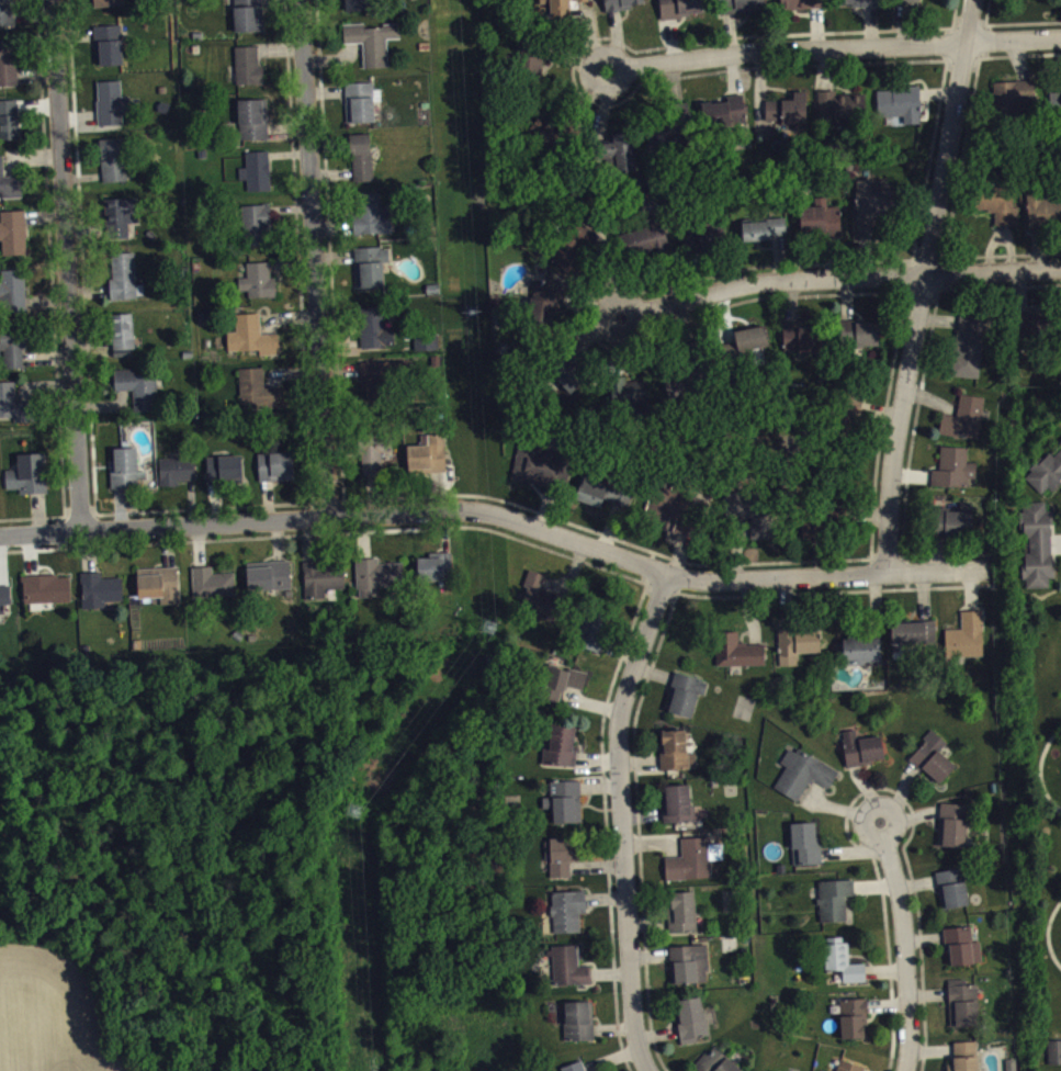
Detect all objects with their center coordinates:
building: (568, 3)
building: (859, 5)
building: (911, 5)
building: (111, 7)
building: (358, 8)
building: (624, 8)
building: (804, 8)
building: (746, 9)
building: (682, 11)
building: (7, 16)
building: (250, 19)
building: (373, 48)
building: (111, 52)
road: (836, 57)
building: (9, 70)
building: (250, 74)
building: (1017, 100)
building: (362, 109)
building: (899, 109)
building: (113, 110)
building: (842, 113)
building: (789, 117)
building: (725, 120)
building: (10, 126)
building: (255, 126)
building: (666, 144)
building: (622, 157)
building: (363, 165)
building: (114, 167)
building: (258, 178)
building: (10, 189)
building: (876, 207)
building: (1000, 211)
building: (1045, 218)
building: (372, 222)
building: (123, 223)
building: (822, 226)
building: (258, 233)
building: (766, 236)
building: (14, 240)
building: (707, 244)
building: (650, 245)
building: (576, 251)
road: (314, 259)
road: (67, 266)
building: (374, 273)
road: (840, 281)
building: (126, 283)
road: (927, 288)
building: (260, 289)
building: (13, 297)
power tower: (474, 312)
building: (548, 313)
building: (377, 336)
building: (1035, 336)
building: (864, 340)
building: (125, 341)
building: (253, 343)
building: (805, 346)
building: (754, 347)
building: (971, 352)
building: (15, 353)
building: (571, 380)
building: (377, 387)
building: (139, 395)
building: (260, 399)
building: (14, 410)
building: (966, 426)
building: (376, 460)
building: (429, 462)
building: (538, 472)
building: (278, 474)
building: (128, 475)
building: (227, 475)
building: (956, 475)
building: (178, 477)
building: (31, 482)
building: (1047, 482)
building: (606, 500)
road: (498, 515)
building: (678, 518)
building: (756, 523)
building: (956, 529)
building: (812, 532)
building: (1040, 554)
building: (438, 574)
building: (270, 583)
building: (379, 583)
building: (324, 587)
building: (214, 590)
building: (161, 591)
building: (48, 596)
building: (102, 597)
building: (5, 605)
building: (541, 606)
power tower: (490, 627)
building: (596, 638)
building: (916, 641)
building: (968, 643)
building: (799, 651)
building: (864, 657)
building: (740, 658)
building: (564, 689)
building: (687, 701)
building: (563, 753)
building: (865, 756)
building: (678, 758)
building: (935, 765)
building: (804, 780)
building: (568, 809)
building: (679, 812)
power tower: (355, 814)
road: (630, 822)
building: (955, 833)
building: (808, 852)
building: (566, 863)
building: (692, 868)
building: (955, 895)
building: (836, 906)
building: (569, 918)
building: (682, 920)
road: (906, 948)
building: (964, 954)
building: (845, 968)
building: (690, 971)
building: (571, 974)
building: (964, 1011)
crop: (53, 1013)
building: (856, 1026)
building: (692, 1027)
building: (580, 1028)
building: (1054, 1059)
building: (968, 1060)
building: (716, 1064)
building: (846, 1069)
building: (580, 1070)

